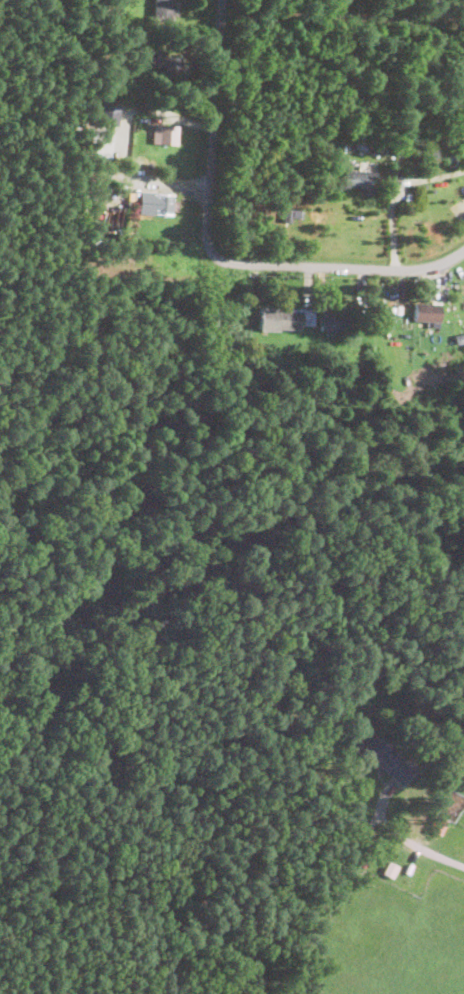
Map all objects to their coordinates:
building: (162, 10)
road: (342, 14)
building: (139, 36)
building: (462, 56)
building: (165, 63)
building: (125, 87)
building: (105, 114)
road: (213, 125)
building: (164, 133)
building: (430, 152)
building: (324, 153)
road: (147, 179)
building: (360, 180)
building: (96, 183)
road: (395, 191)
building: (135, 197)
building: (407, 199)
building: (162, 203)
building: (291, 214)
road: (339, 263)
building: (388, 311)
building: (427, 311)
building: (284, 318)
building: (339, 323)
building: (459, 339)
building: (252, 347)
building: (277, 357)
crop: (213, 639)
building: (386, 758)
road: (410, 838)
building: (363, 863)
building: (390, 868)

